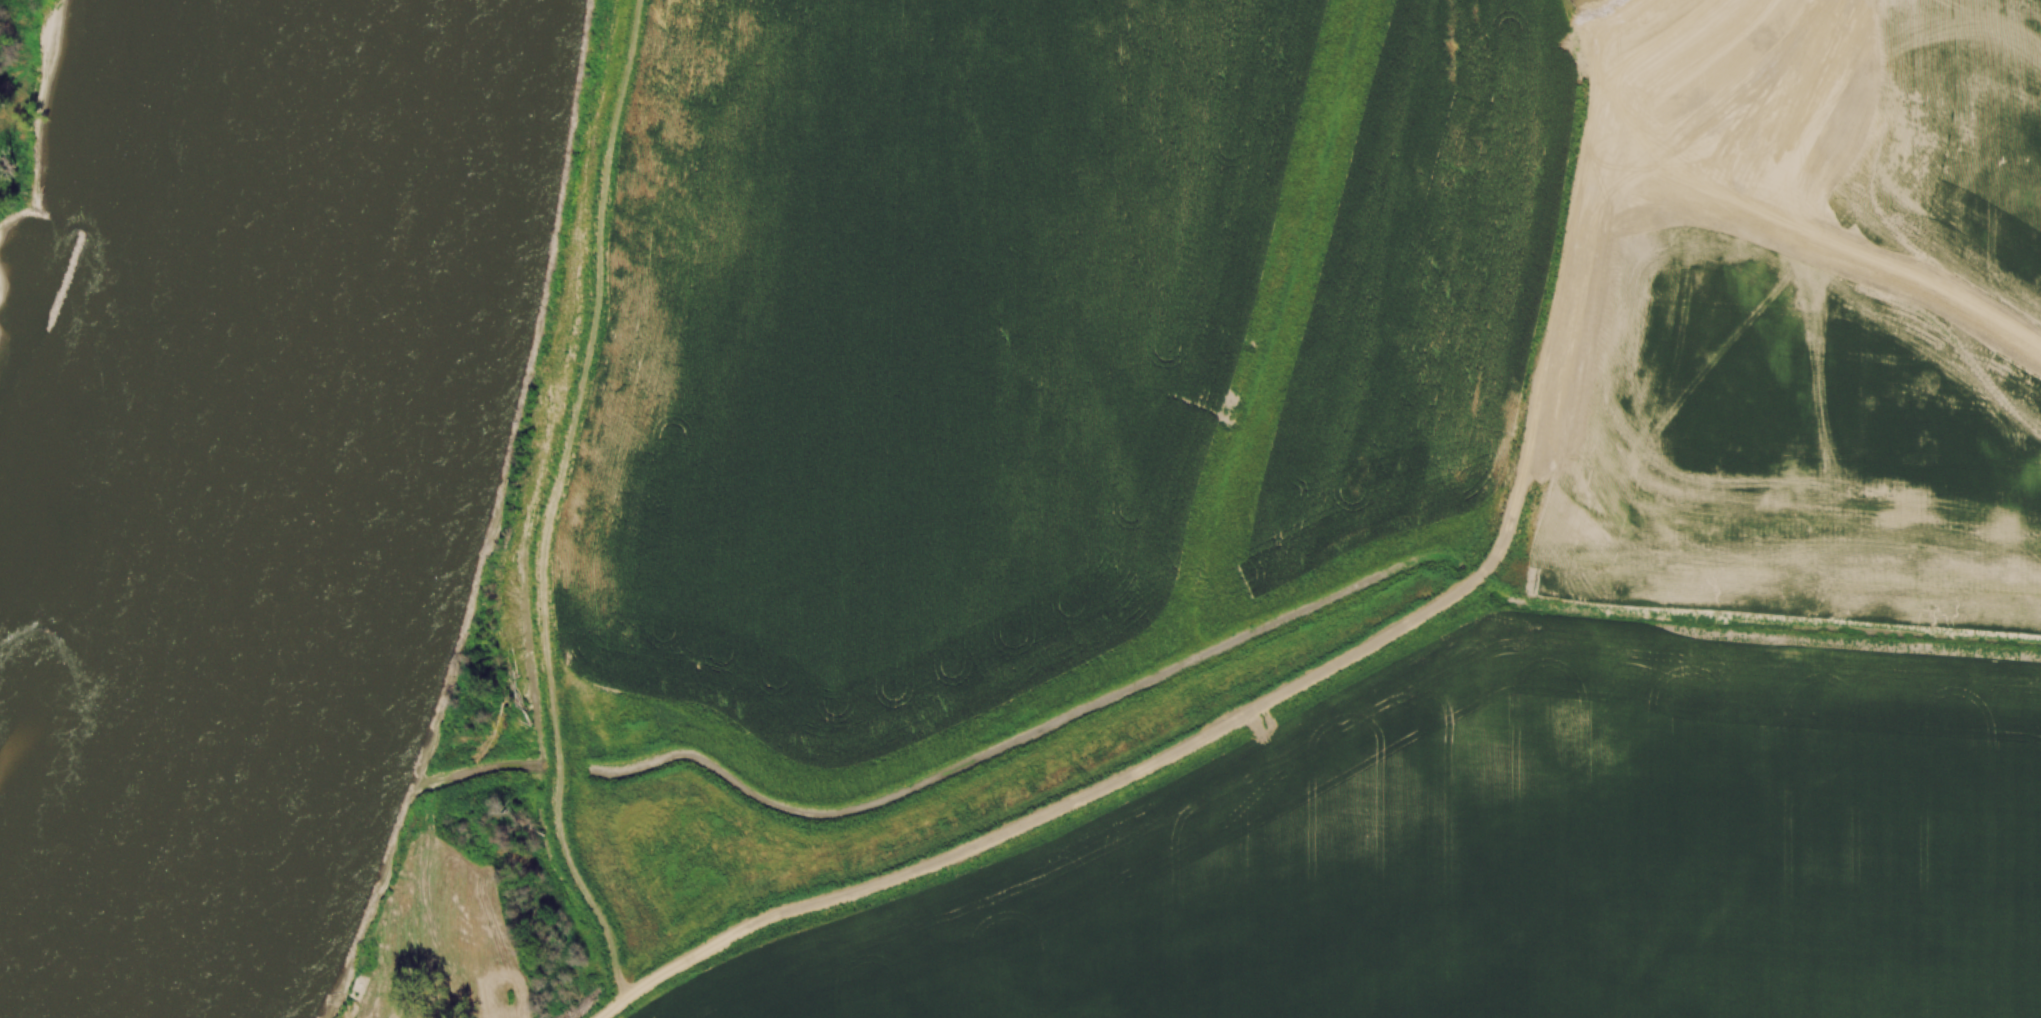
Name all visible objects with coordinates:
river: (225, 518)
road: (1320, 675)
building: (463, 983)

